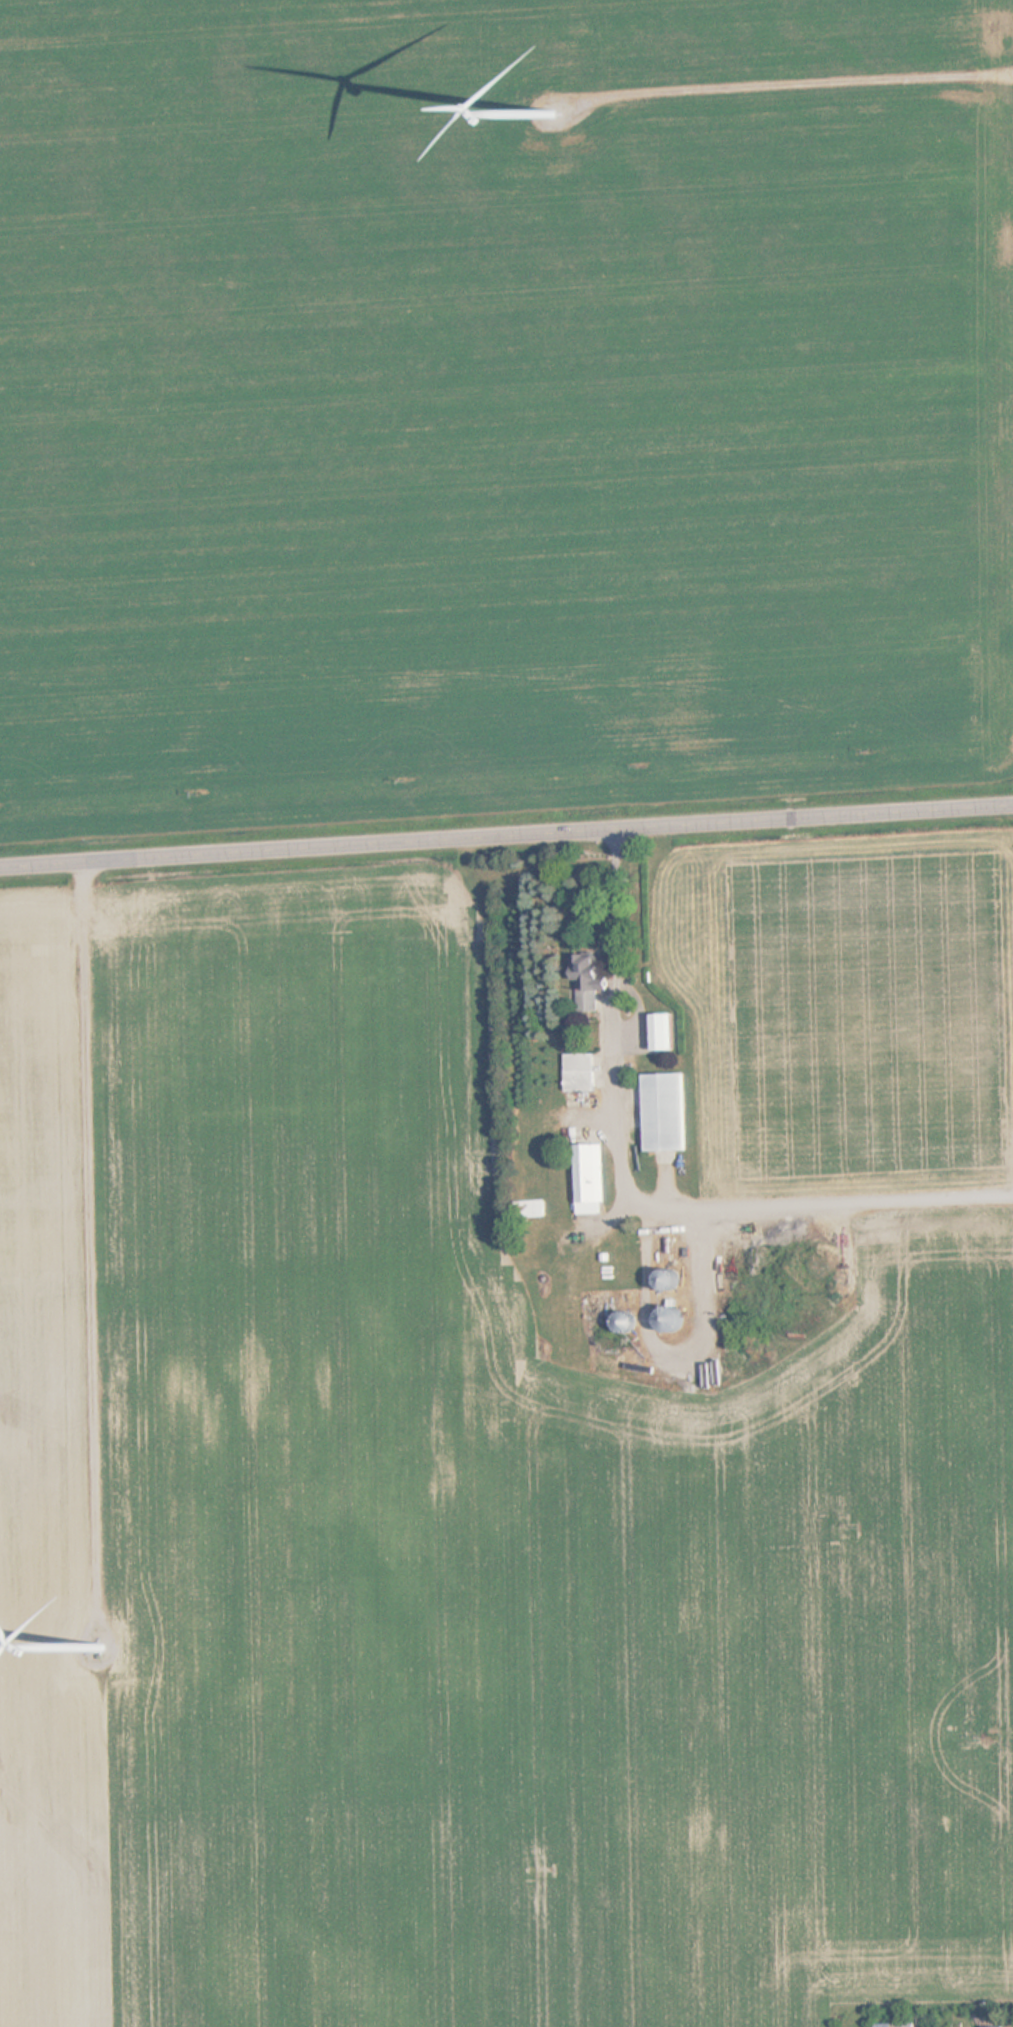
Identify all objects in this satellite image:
road: (801, 85)
wind turbine: (546, 111)
road: (506, 836)
building: (589, 982)
building: (665, 1032)
building: (583, 1072)
building: (668, 1112)
building: (587, 1178)
road: (638, 1201)
building: (534, 1210)
building: (797, 1223)
building: (838, 1229)
road: (90, 1231)
building: (677, 1280)
silo: (677, 1280)
building: (670, 1312)
building: (680, 1320)
silo: (680, 1320)
building: (628, 1322)
silo: (628, 1322)
wind turbine: (102, 1643)
building: (898, 2025)
building: (999, 2026)

